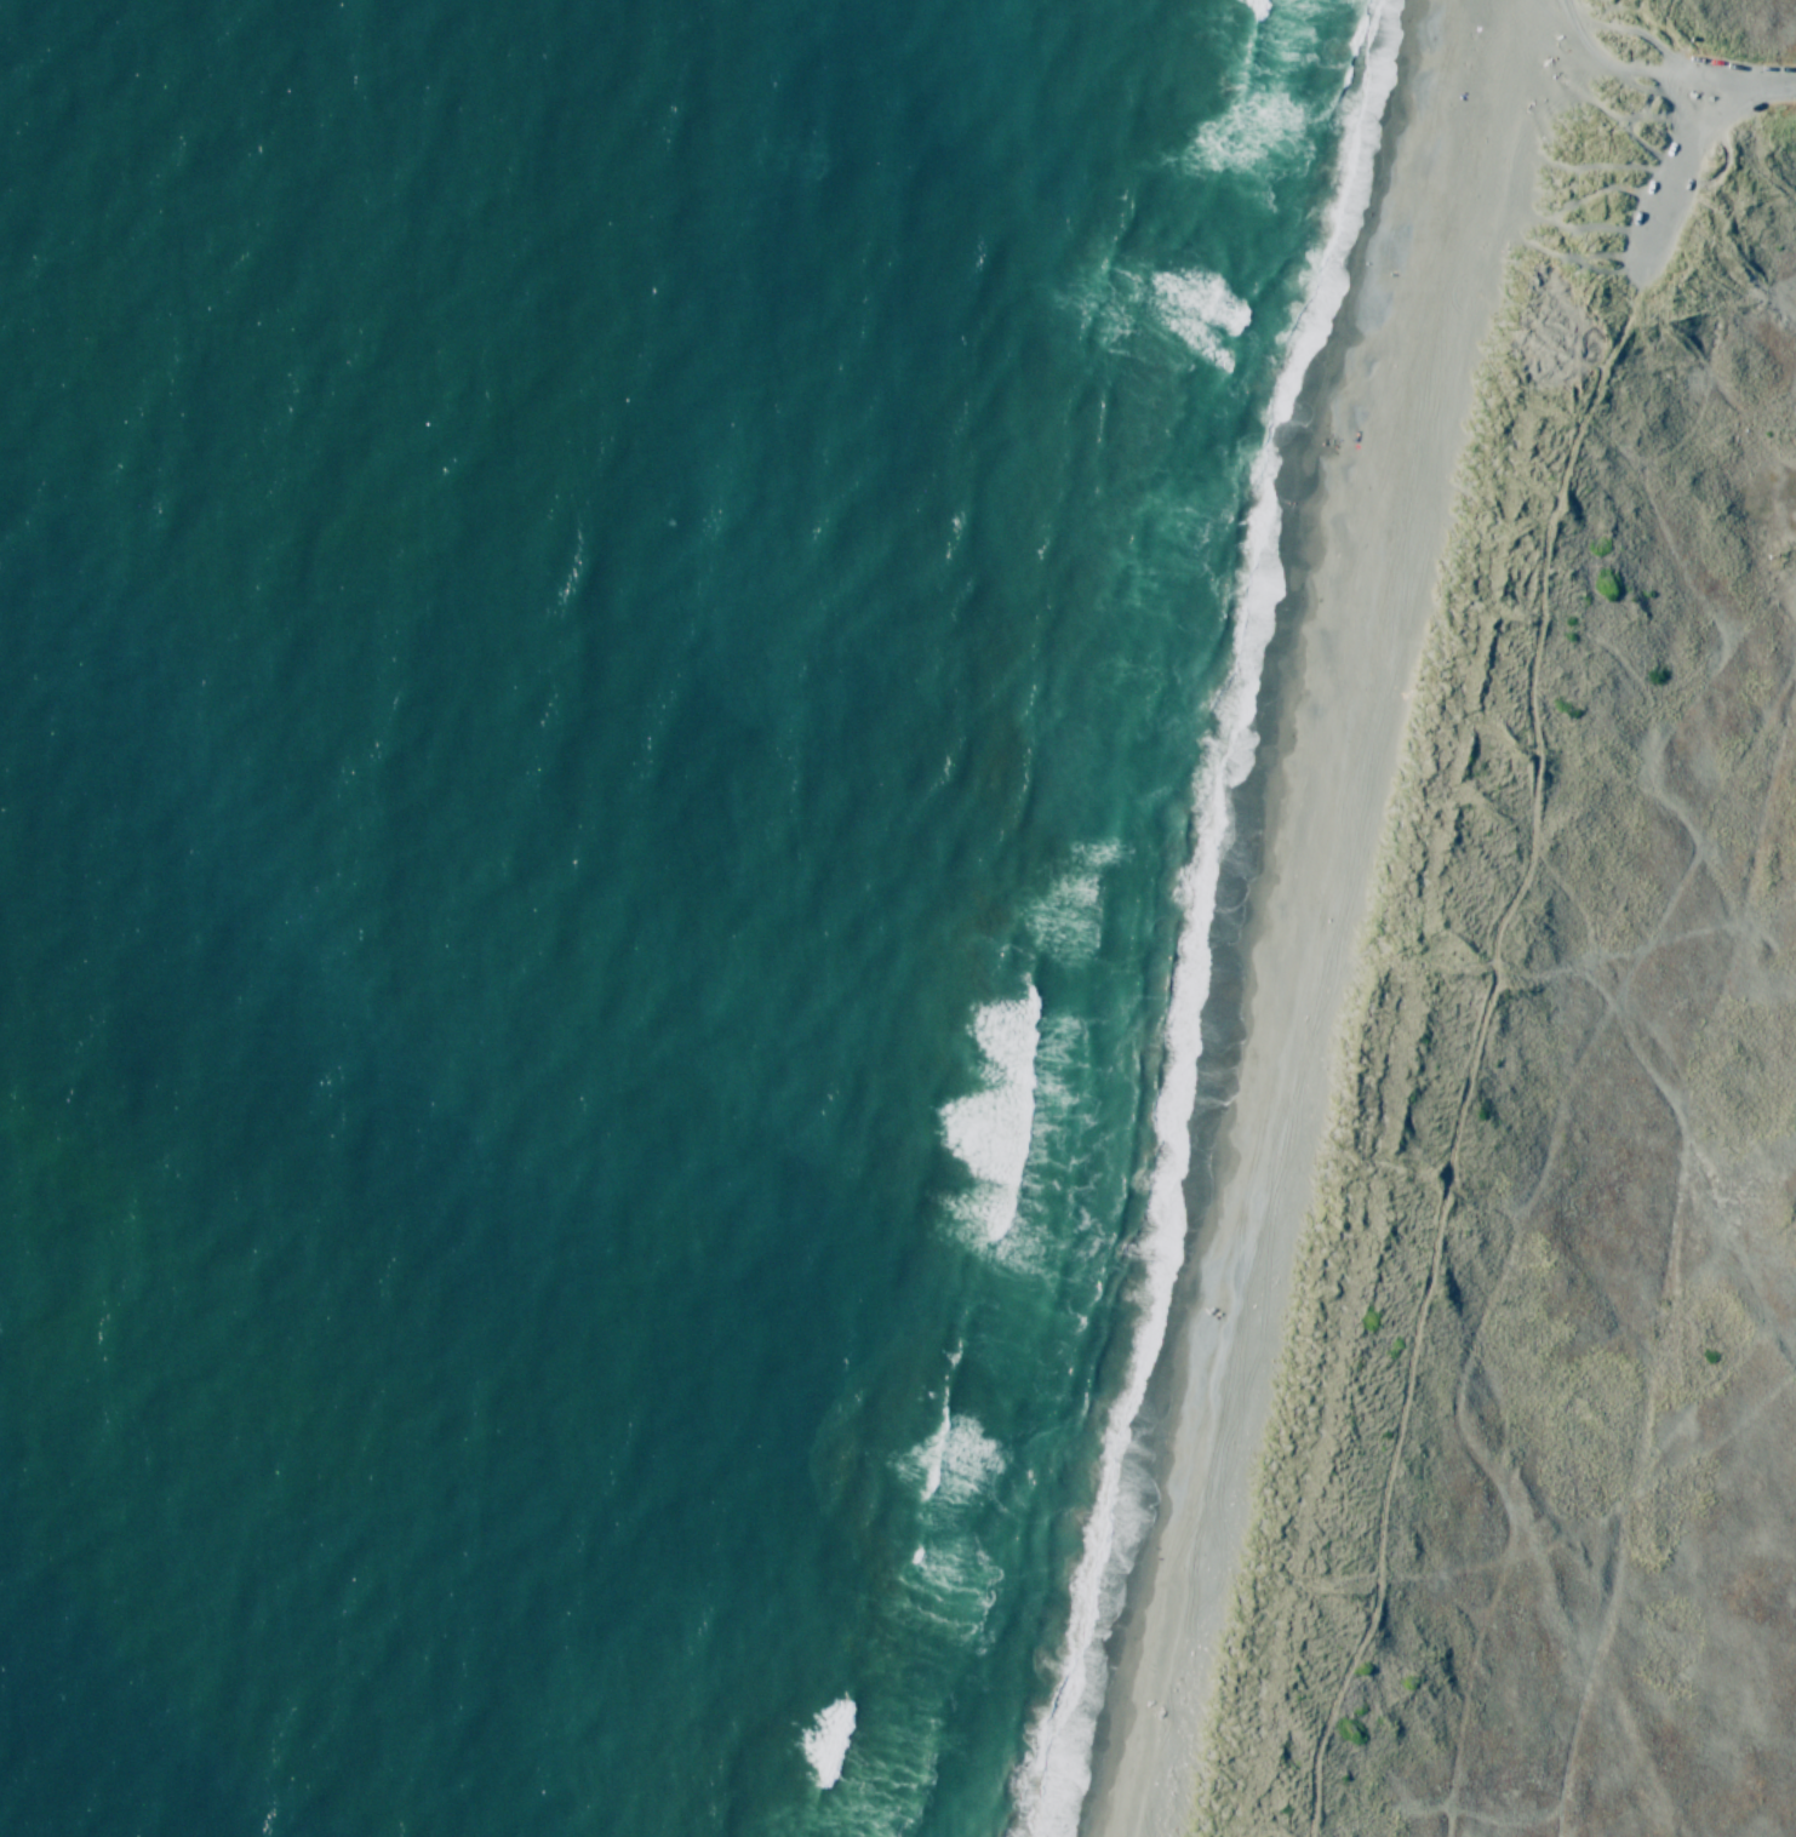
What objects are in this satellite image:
road: (1775, 86)

